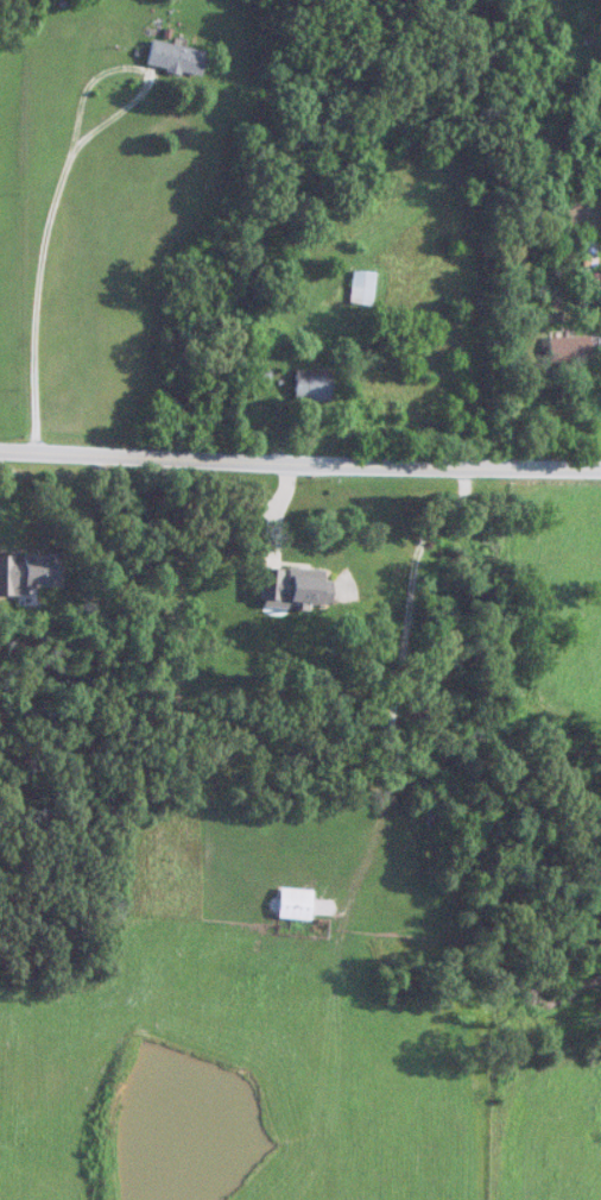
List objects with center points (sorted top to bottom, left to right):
building: (172, 58)
road: (61, 175)
building: (589, 287)
building: (359, 288)
building: (567, 348)
building: (309, 384)
road: (300, 452)
building: (23, 571)
building: (289, 586)
building: (291, 903)

